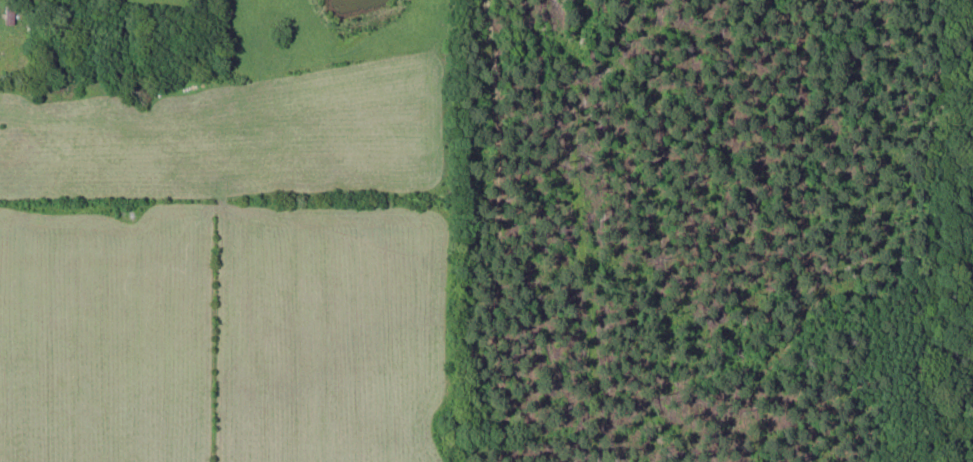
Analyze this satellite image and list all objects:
building: (12, 11)
road: (0, 448)

